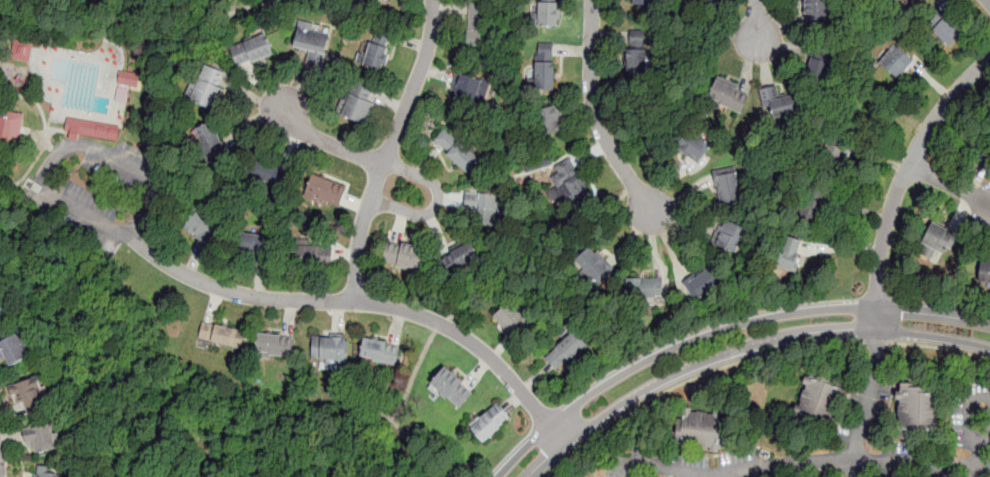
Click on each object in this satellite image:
building: (364, 0)
building: (370, 0)
building: (402, 0)
building: (709, 0)
road: (989, 0)
building: (645, 2)
building: (910, 3)
road: (450, 8)
building: (816, 12)
building: (545, 13)
road: (756, 19)
building: (476, 23)
building: (946, 30)
road: (609, 35)
building: (311, 39)
road: (410, 40)
road: (135, 46)
building: (250, 49)
building: (22, 50)
building: (375, 50)
road: (573, 50)
building: (635, 52)
building: (897, 58)
building: (820, 63)
building: (543, 66)
road: (437, 72)
building: (128, 78)
road: (676, 79)
road: (264, 84)
road: (301, 87)
building: (205, 88)
building: (469, 90)
building: (121, 94)
road: (251, 95)
building: (727, 96)
road: (30, 98)
road: (388, 100)
building: (779, 101)
building: (356, 102)
road: (577, 105)
road: (595, 111)
building: (548, 118)
road: (250, 123)
building: (10, 126)
building: (91, 128)
building: (209, 141)
road: (328, 142)
building: (690, 143)
road: (50, 146)
building: (979, 148)
road: (291, 149)
road: (388, 149)
building: (456, 150)
road: (590, 152)
building: (845, 158)
road: (428, 161)
road: (50, 167)
road: (906, 171)
building: (268, 172)
building: (567, 182)
road: (669, 182)
building: (727, 184)
road: (950, 184)
building: (322, 188)
parking lot: (98, 189)
road: (682, 195)
road: (450, 199)
road: (353, 201)
road: (436, 202)
building: (811, 202)
building: (484, 206)
road: (681, 222)
building: (202, 224)
road: (399, 227)
road: (437, 234)
building: (727, 235)
road: (630, 237)
building: (939, 237)
road: (655, 242)
road: (669, 244)
building: (257, 248)
building: (792, 252)
road: (344, 254)
building: (400, 254)
building: (311, 256)
building: (458, 256)
road: (545, 259)
building: (592, 265)
building: (984, 270)
building: (705, 279)
road: (260, 282)
building: (644, 288)
road: (364, 302)
road: (214, 305)
building: (1, 309)
road: (290, 316)
road: (337, 318)
building: (512, 321)
road: (397, 325)
road: (442, 325)
road: (722, 330)
building: (221, 334)
building: (274, 345)
road: (877, 345)
road: (500, 347)
road: (743, 347)
building: (15, 348)
road: (941, 348)
building: (380, 350)
building: (566, 350)
building: (330, 351)
road: (479, 372)
road: (413, 374)
road: (537, 378)
road: (692, 378)
road: (153, 383)
building: (450, 388)
road: (866, 392)
building: (29, 396)
road: (513, 401)
building: (818, 401)
building: (917, 410)
road: (969, 412)
building: (488, 421)
building: (702, 429)
road: (986, 438)
building: (41, 439)
road: (980, 459)
road: (826, 461)
building: (44, 472)

